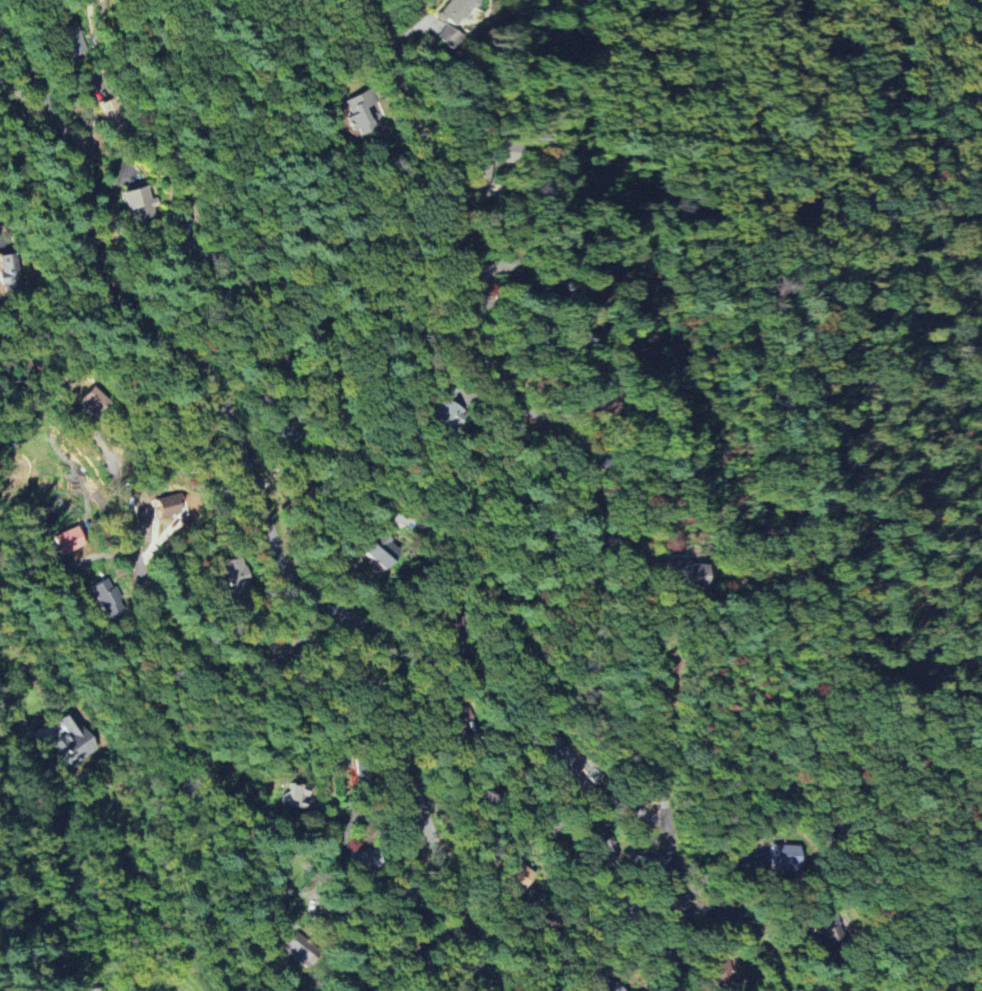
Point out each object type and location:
building: (456, 10)
building: (448, 36)
building: (72, 40)
building: (360, 113)
building: (112, 116)
building: (138, 203)
building: (10, 272)
building: (551, 293)
road: (327, 369)
building: (91, 402)
building: (601, 403)
building: (446, 414)
road: (586, 480)
road: (261, 502)
building: (70, 541)
building: (378, 550)
building: (677, 570)
building: (236, 574)
building: (107, 598)
road: (165, 625)
road: (14, 705)
building: (73, 741)
building: (561, 757)
building: (297, 796)
road: (577, 817)
road: (368, 820)
building: (599, 855)
building: (784, 858)
building: (361, 862)
road: (743, 924)
building: (300, 951)
road: (620, 951)
building: (721, 977)
building: (610, 987)
building: (94, 990)

